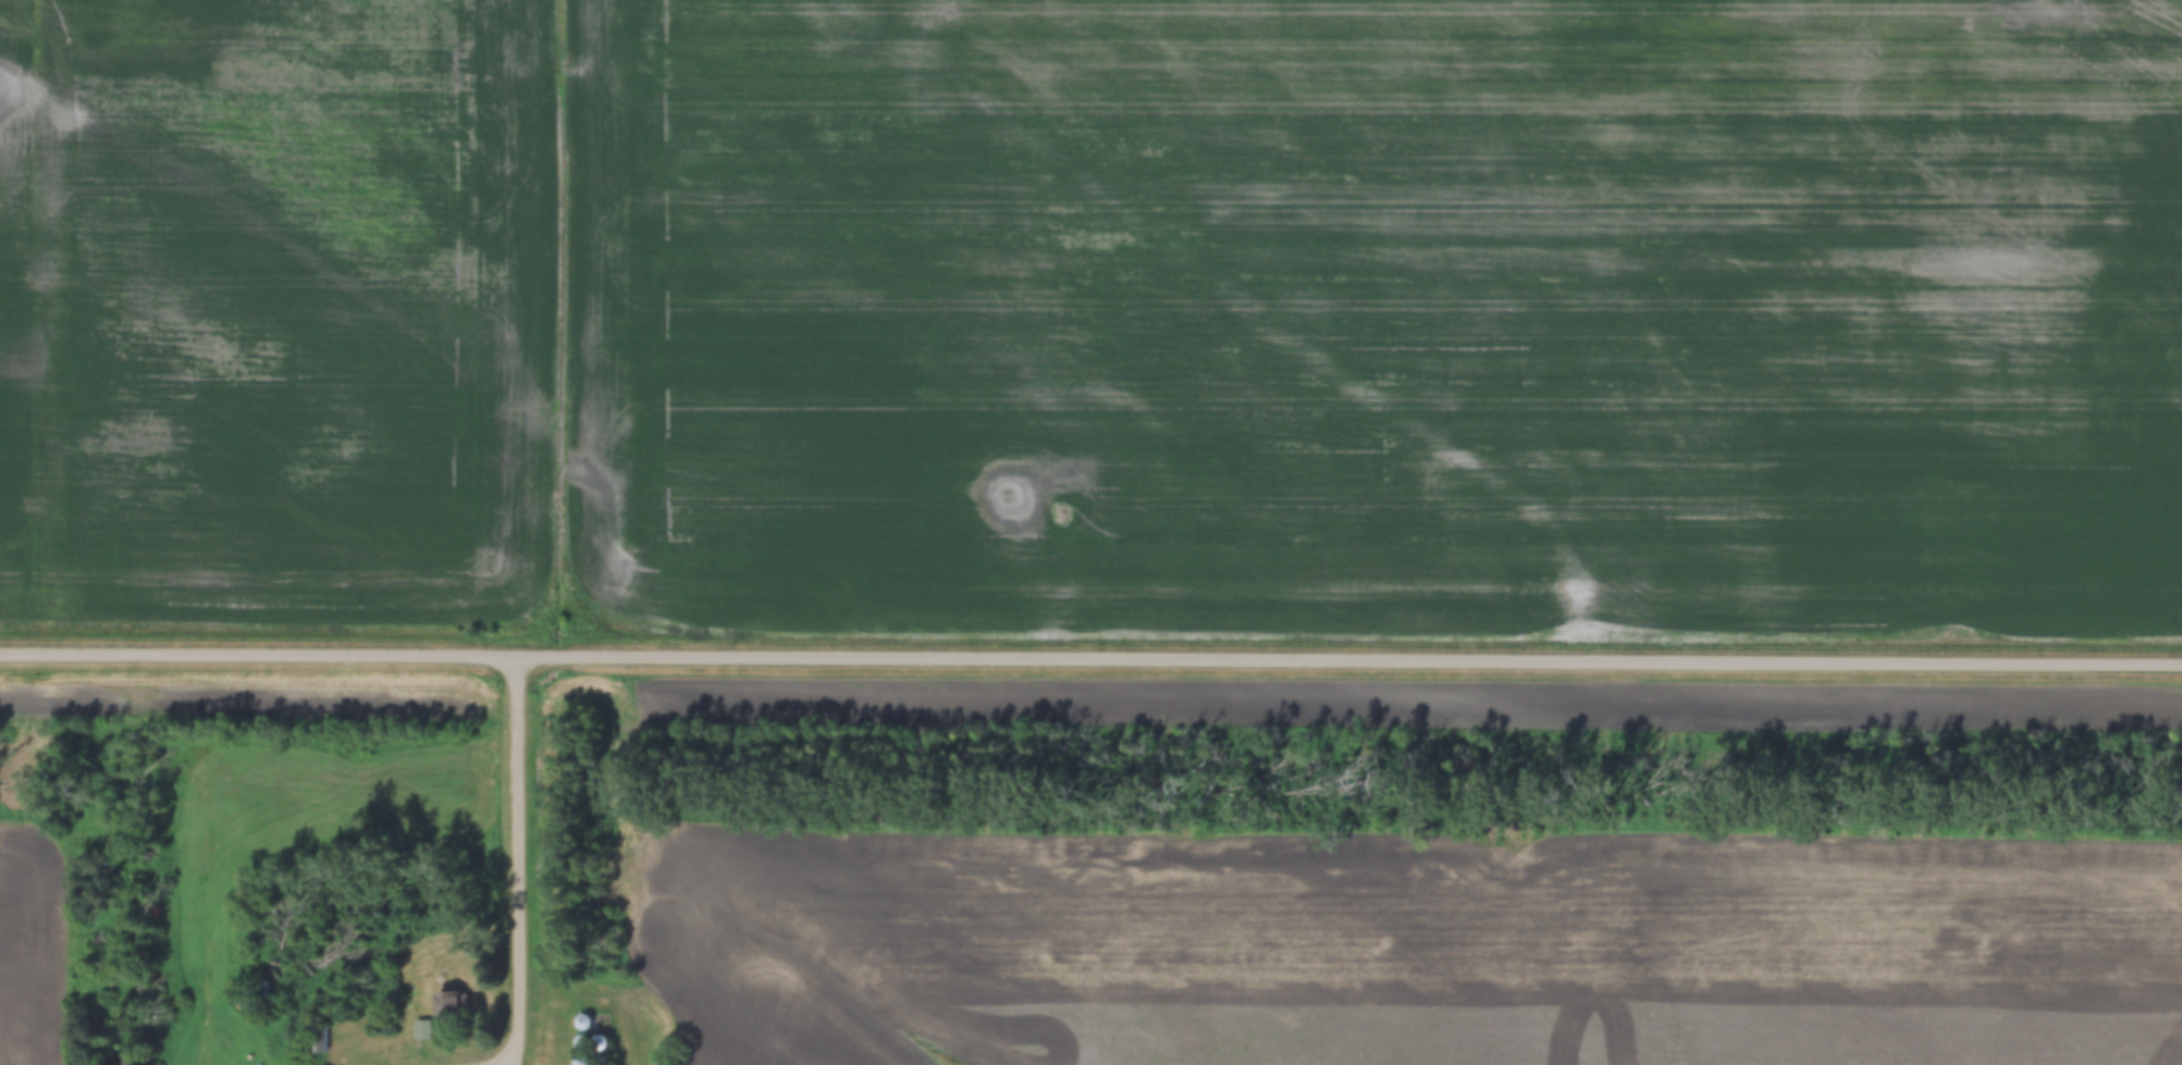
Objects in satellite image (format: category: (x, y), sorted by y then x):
road: (1090, 654)
road: (516, 864)
building: (446, 1006)
building: (421, 1030)
building: (317, 1040)
road: (515, 1060)

